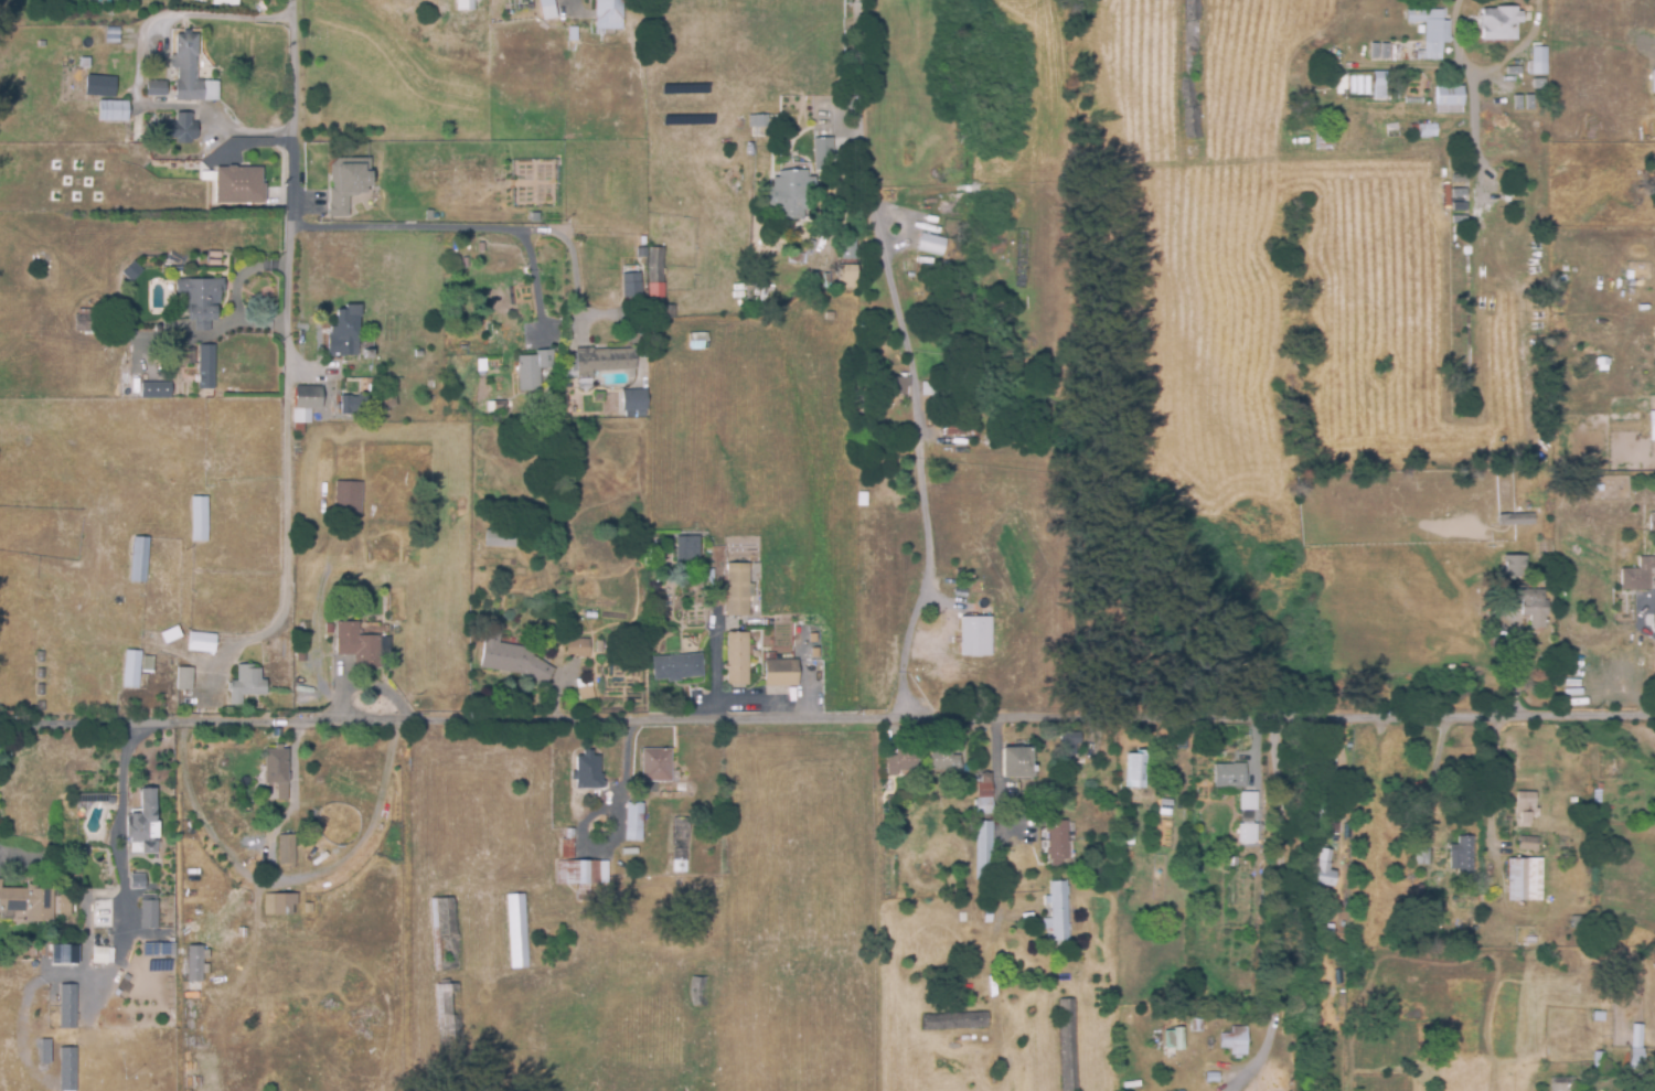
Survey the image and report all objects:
building: (477, 0)
building: (223, 1)
building: (462, 4)
building: (549, 9)
building: (610, 14)
building: (1496, 23)
building: (1428, 30)
building: (574, 34)
building: (129, 53)
building: (1535, 62)
building: (1624, 66)
building: (191, 67)
road: (137, 68)
building: (1190, 69)
building: (1323, 73)
building: (1649, 73)
building: (1377, 78)
road: (1470, 83)
building: (102, 84)
building: (158, 86)
building: (1446, 97)
building: (115, 108)
building: (754, 126)
building: (180, 127)
building: (1422, 130)
building: (1322, 141)
building: (821, 148)
building: (793, 160)
road: (288, 171)
building: (345, 182)
building: (244, 186)
building: (481, 192)
building: (1505, 192)
building: (648, 193)
building: (460, 195)
building: (788, 197)
building: (1473, 215)
road: (488, 227)
road: (876, 229)
building: (929, 243)
building: (846, 247)
building: (796, 259)
building: (129, 270)
building: (841, 277)
road: (534, 280)
building: (629, 286)
building: (655, 287)
building: (196, 300)
building: (826, 317)
building: (87, 324)
building: (346, 331)
building: (696, 342)
building: (370, 351)
building: (599, 362)
building: (1646, 365)
building: (532, 367)
building: (209, 368)
building: (1567, 373)
building: (157, 387)
building: (894, 387)
building: (927, 389)
building: (309, 394)
building: (630, 398)
building: (357, 400)
building: (386, 400)
building: (494, 404)
building: (637, 416)
building: (301, 417)
building: (957, 424)
building: (1651, 425)
building: (298, 449)
building: (349, 496)
building: (200, 516)
building: (1516, 520)
building: (1652, 522)
road: (287, 534)
building: (499, 539)
building: (682, 555)
building: (140, 556)
building: (655, 557)
building: (668, 560)
building: (1546, 561)
road: (923, 564)
building: (1513, 566)
building: (1637, 576)
building: (737, 590)
building: (1531, 603)
building: (330, 625)
building: (172, 632)
building: (973, 635)
building: (203, 640)
building: (359, 642)
building: (598, 648)
building: (576, 649)
building: (40, 654)
building: (512, 656)
building: (736, 660)
building: (149, 662)
building: (132, 666)
building: (675, 668)
building: (41, 671)
building: (778, 674)
building: (185, 676)
building: (247, 682)
building: (40, 687)
road: (900, 692)
building: (584, 693)
building: (42, 703)
road: (850, 714)
road: (20, 726)
building: (1179, 742)
building: (1069, 746)
building: (943, 761)
building: (899, 762)
building: (1015, 763)
building: (655, 764)
building: (279, 768)
building: (1133, 770)
road: (1339, 770)
building: (586, 773)
building: (983, 777)
road: (995, 777)
building: (1228, 777)
road: (1555, 783)
road: (1493, 787)
building: (980, 798)
building: (888, 799)
building: (1245, 801)
building: (1527, 804)
building: (146, 819)
building: (632, 822)
building: (1241, 830)
road: (118, 836)
building: (568, 841)
building: (1528, 841)
building: (1056, 844)
building: (679, 845)
building: (1246, 846)
building: (288, 847)
building: (1462, 852)
building: (982, 858)
building: (1322, 868)
building: (583, 873)
building: (1525, 877)
building: (136, 880)
building: (677, 883)
building: (26, 900)
building: (280, 901)
road: (1279, 902)
building: (63, 905)
building: (310, 906)
building: (150, 909)
building: (957, 917)
building: (104, 919)
building: (310, 923)
building: (519, 928)
building: (1058, 929)
building: (310, 931)
building: (446, 932)
building: (1531, 939)
building: (165, 948)
building: (63, 953)
building: (102, 953)
building: (197, 961)
building: (698, 992)
building: (70, 1004)
building: (450, 1020)
building: (952, 1023)
building: (1172, 1038)
building: (1239, 1039)
building: (1066, 1046)
building: (1636, 1048)
building: (47, 1049)
building: (1599, 1061)
building: (70, 1068)
building: (1210, 1078)
building: (1224, 1087)

